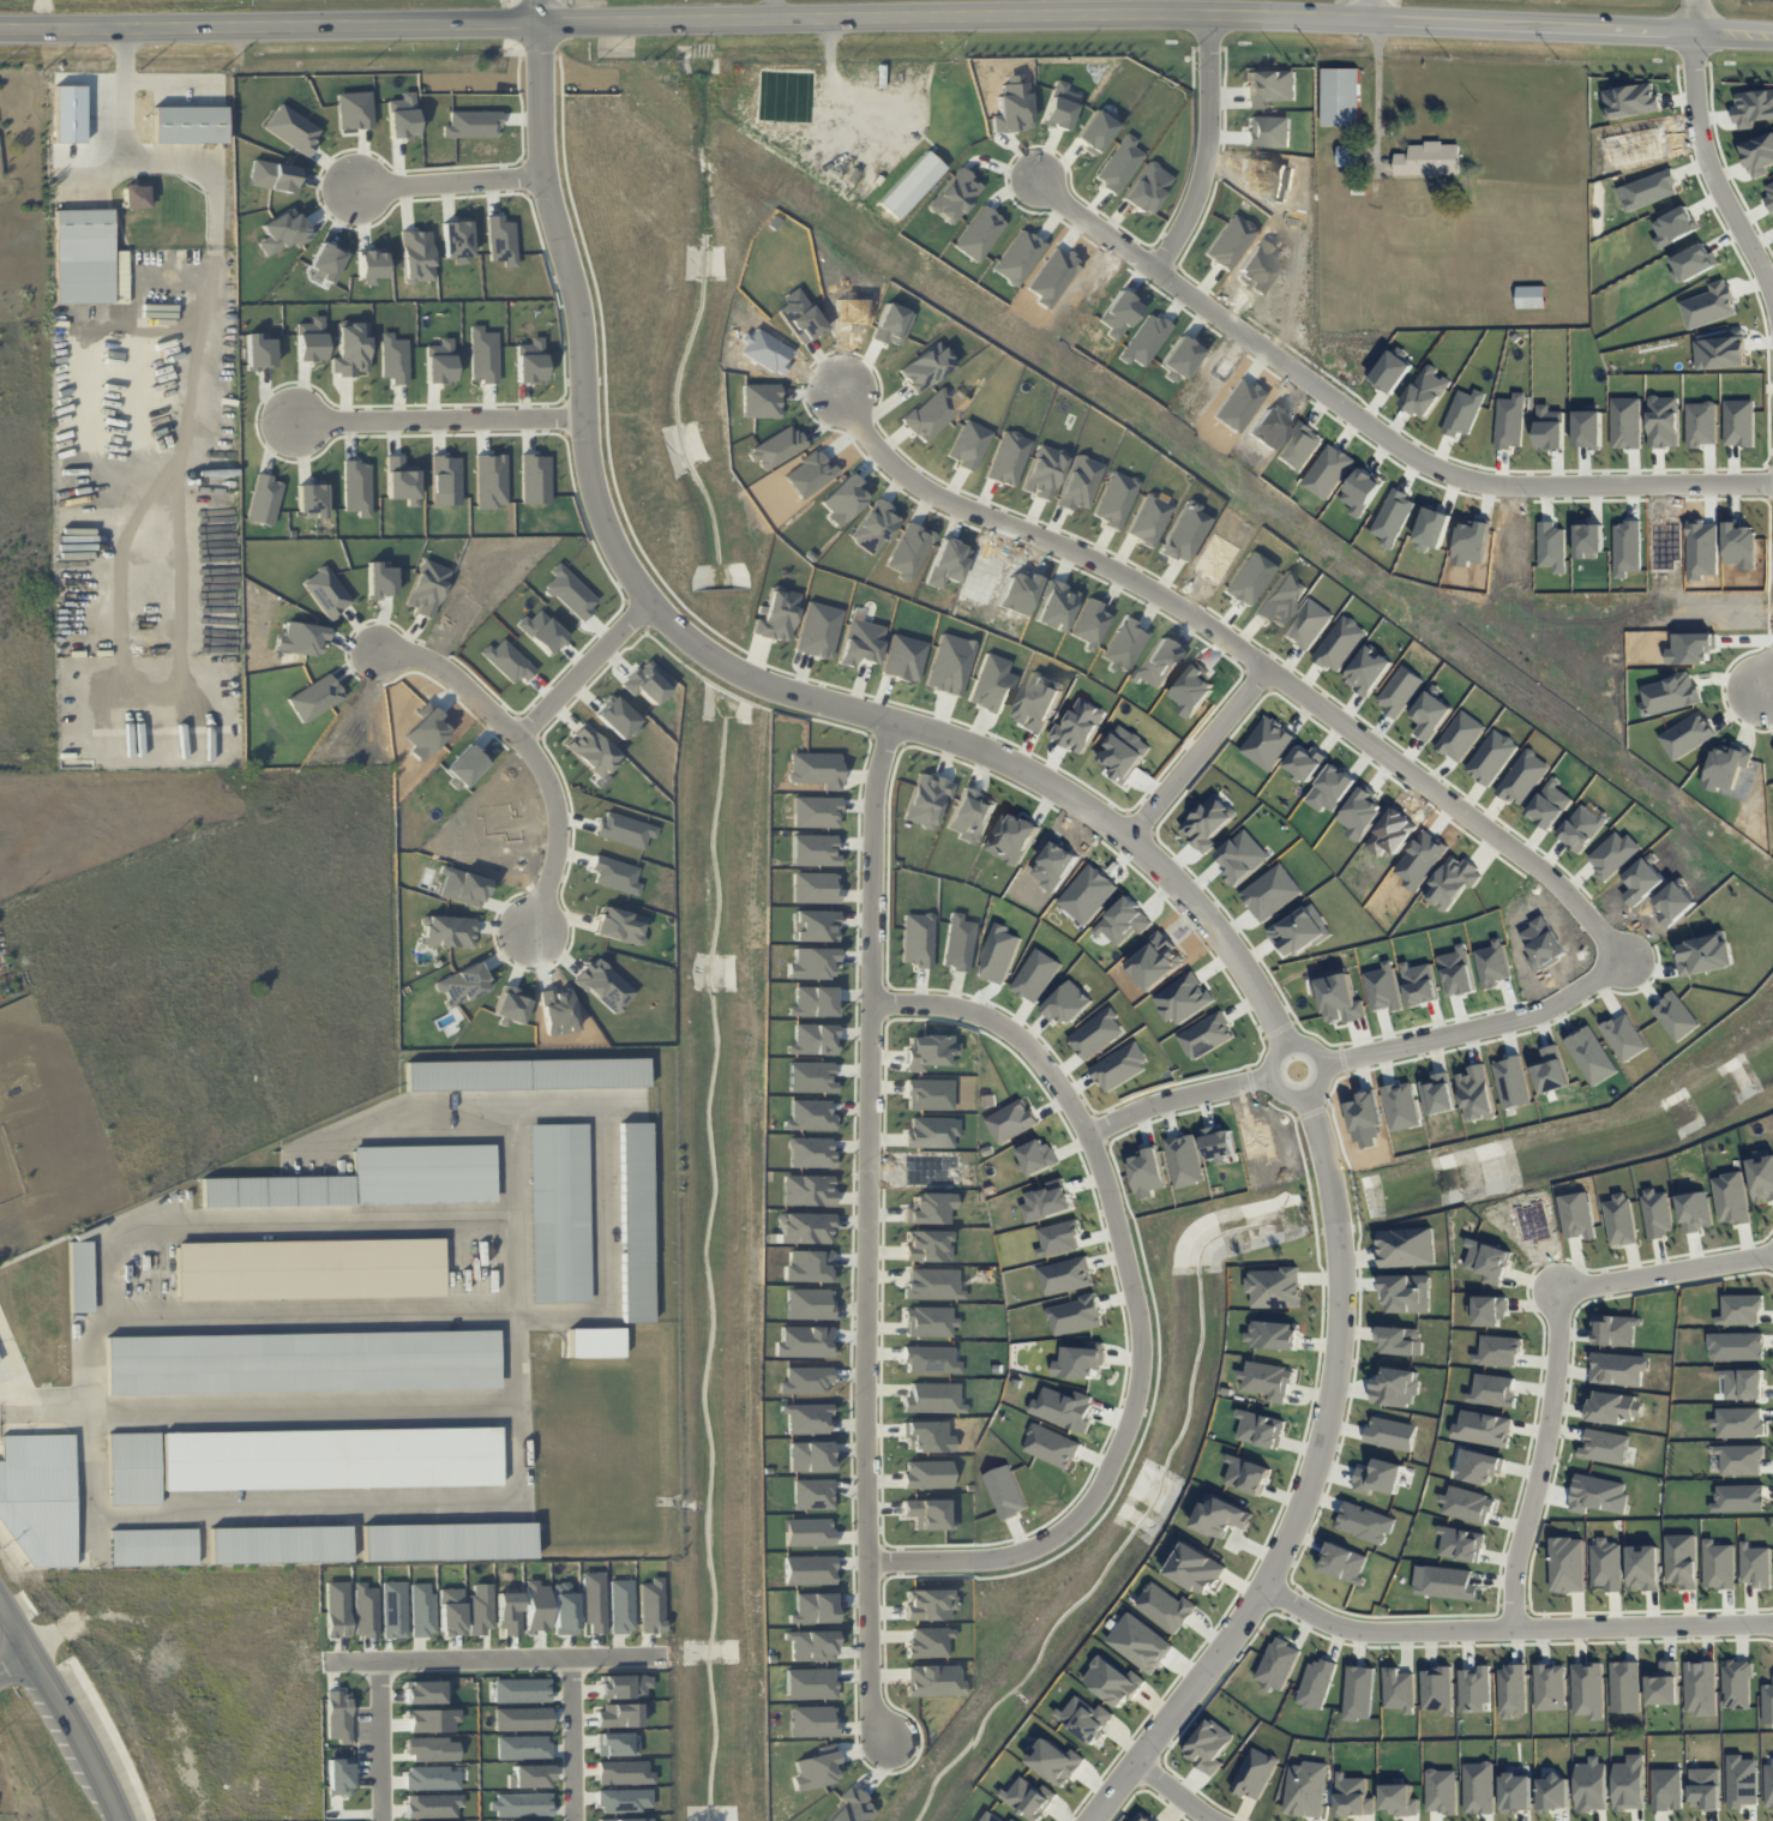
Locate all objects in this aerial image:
road: (1371, 10)
road: (886, 14)
road: (1694, 16)
road: (173, 83)
road: (1376, 89)
building: (1341, 97)
building: (473, 124)
building: (188, 125)
road: (1208, 148)
building: (1347, 155)
building: (1429, 160)
road: (140, 162)
road: (1709, 168)
road: (451, 182)
building: (910, 185)
building: (455, 239)
building: (500, 240)
building: (1531, 296)
road: (217, 315)
road: (437, 420)
road: (1370, 427)
road: (1239, 655)
road: (720, 661)
road: (585, 668)
road: (458, 680)
road: (1768, 684)
road: (1195, 755)
road: (560, 829)
building: (815, 851)
building: (815, 887)
building: (618, 925)
building: (1069, 1002)
road: (1476, 1027)
building: (525, 1074)
road: (1318, 1076)
road: (1174, 1098)
road: (867, 1138)
building: (422, 1174)
building: (1761, 1174)
building: (807, 1189)
building: (276, 1191)
building: (1731, 1198)
building: (558, 1213)
building: (1657, 1213)
building: (1576, 1215)
building: (1619, 1220)
road: (307, 1222)
building: (635, 1222)
building: (1407, 1248)
road: (1667, 1263)
building: (309, 1269)
building: (79, 1276)
building: (1274, 1287)
road: (1128, 1302)
building: (1739, 1309)
building: (1489, 1311)
building: (1613, 1330)
building: (1273, 1334)
building: (1401, 1341)
building: (595, 1342)
building: (1736, 1346)
building: (1498, 1350)
building: (301, 1362)
building: (1618, 1369)
building: (1268, 1381)
building: (1742, 1383)
building: (1493, 1390)
building: (1613, 1407)
road: (42, 1413)
building: (1738, 1423)
building: (1484, 1429)
building: (1261, 1430)
building: (1604, 1447)
road: (1543, 1455)
building: (330, 1459)
building: (1739, 1459)
building: (1479, 1466)
building: (132, 1468)
building: (1248, 1474)
road: (1305, 1485)
road: (511, 1492)
building: (38, 1497)
building: (1738, 1498)
building: (1467, 1506)
building: (1221, 1516)
building: (1365, 1522)
building: (446, 1541)
building: (277, 1544)
building: (1461, 1544)
building: (151, 1546)
building: (1681, 1561)
building: (1345, 1562)
building: (1567, 1564)
building: (1718, 1565)
building: (1756, 1565)
building: (1194, 1568)
building: (1448, 1583)
building: (1165, 1607)
road: (1640, 1621)
road: (1378, 1629)
building: (1140, 1642)
road: (871, 1652)
road: (14, 1661)
road: (488, 1663)
building: (1278, 1664)
building: (1113, 1682)
building: (1316, 1684)
building: (1663, 1684)
building: (1737, 1684)
building: (1549, 1687)
building: (1624, 1687)
building: (1700, 1688)
building: (1398, 1689)
building: (1436, 1689)
building: (1473, 1689)
building: (1587, 1690)
building: (1511, 1691)
building: (1359, 1693)
road: (64, 1709)
building: (1086, 1718)
road: (384, 1742)
road: (575, 1742)
building: (1209, 1747)
building: (1056, 1761)
building: (1255, 1773)
building: (1741, 1781)
building: (1768, 1783)
building: (1629, 1784)
building: (1591, 1785)
building: (1478, 1787)
building: (1705, 1789)
building: (1306, 1790)
building: (1666, 1790)
road: (1174, 1791)
building: (1441, 1791)
building: (1516, 1792)
building: (1553, 1793)
building: (1353, 1796)
building: (1028, 1797)
building: (1399, 1799)
building: (990, 1816)
building: (1142, 1817)
building: (1012, 1820)

